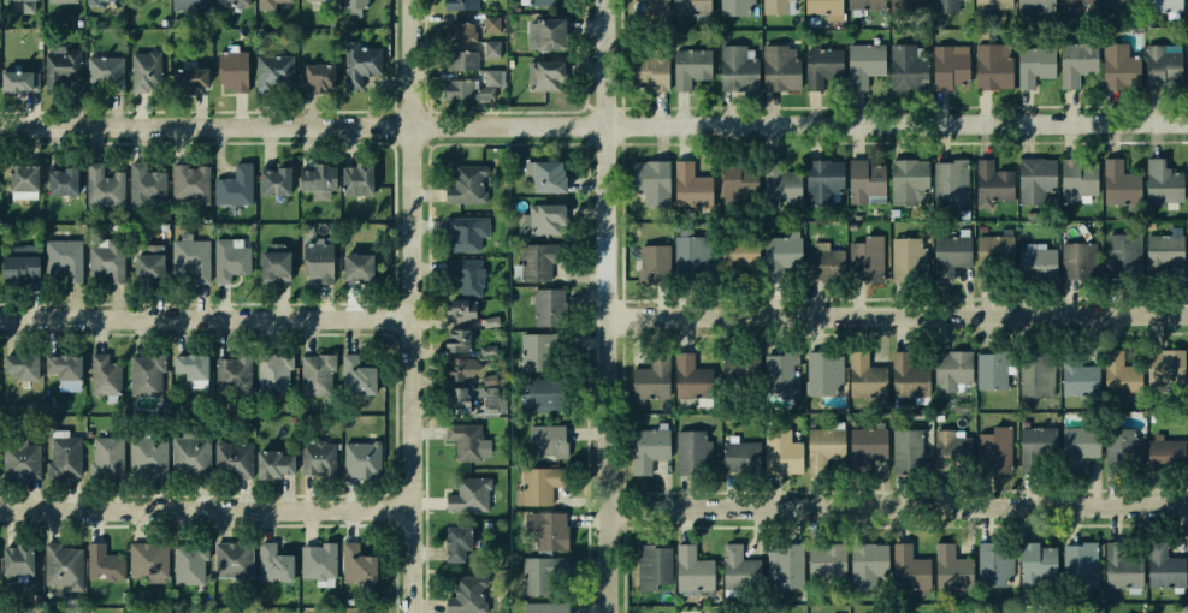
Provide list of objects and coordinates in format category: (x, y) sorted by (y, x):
building: (317, 0)
building: (61, 1)
building: (100, 1)
building: (273, 1)
building: (543, 1)
building: (230, 2)
building: (859, 2)
building: (904, 2)
building: (189, 4)
building: (941, 4)
building: (26, 5)
building: (469, 5)
building: (778, 5)
building: (989, 5)
building: (1033, 5)
building: (1118, 5)
building: (1162, 5)
building: (646, 6)
building: (688, 6)
building: (1076, 6)
building: (1187, 6)
building: (350, 7)
building: (733, 7)
building: (821, 8)
building: (468, 26)
building: (539, 30)
building: (469, 52)
building: (462, 60)
building: (862, 63)
building: (989, 63)
building: (360, 65)
building: (687, 66)
building: (946, 66)
building: (1032, 66)
building: (1159, 66)
building: (821, 67)
building: (271, 69)
building: (904, 69)
building: (1075, 69)
building: (1116, 69)
building: (645, 70)
building: (729, 70)
building: (776, 70)
building: (230, 71)
building: (60, 72)
building: (104, 72)
building: (144, 72)
building: (313, 72)
building: (185, 76)
building: (543, 76)
building: (19, 79)
building: (1187, 83)
building: (471, 87)
road: (593, 126)
building: (542, 173)
building: (646, 175)
building: (313, 177)
building: (58, 178)
building: (19, 179)
building: (270, 179)
building: (351, 179)
building: (729, 179)
building: (1033, 179)
building: (776, 180)
building: (821, 180)
building: (1076, 180)
building: (863, 181)
building: (906, 181)
building: (989, 181)
building: (102, 183)
building: (463, 183)
building: (688, 183)
building: (144, 184)
building: (189, 184)
building: (948, 184)
building: (1116, 184)
building: (232, 185)
building: (1159, 186)
building: (542, 218)
building: (463, 233)
building: (994, 252)
building: (867, 255)
building: (947, 256)
building: (1118, 256)
building: (1163, 256)
building: (64, 257)
building: (189, 257)
building: (735, 257)
building: (820, 257)
building: (691, 258)
building: (779, 258)
building: (905, 260)
building: (1076, 260)
building: (105, 261)
building: (229, 261)
building: (267, 261)
building: (533, 261)
building: (19, 262)
building: (148, 262)
building: (313, 263)
building: (651, 263)
building: (1033, 264)
building: (351, 268)
building: (465, 275)
building: (546, 305)
road: (415, 306)
road: (611, 306)
building: (460, 310)
road: (900, 313)
road: (208, 317)
building: (490, 321)
building: (460, 340)
building: (487, 350)
building: (533, 350)
building: (23, 365)
building: (65, 365)
building: (193, 365)
building: (731, 365)
building: (461, 368)
building: (143, 370)
building: (273, 370)
building: (906, 370)
building: (950, 370)
building: (988, 370)
building: (1163, 370)
building: (822, 371)
building: (102, 374)
building: (862, 374)
building: (1034, 374)
building: (1116, 374)
building: (356, 375)
building: (226, 376)
building: (318, 376)
building: (649, 376)
building: (686, 376)
building: (775, 376)
building: (483, 379)
building: (1075, 380)
building: (539, 394)
building: (462, 395)
building: (87, 432)
building: (548, 440)
building: (462, 441)
building: (865, 444)
building: (1077, 445)
building: (1122, 445)
building: (909, 446)
building: (1035, 447)
building: (645, 448)
building: (822, 450)
building: (993, 450)
building: (691, 452)
building: (1163, 452)
building: (776, 453)
building: (957, 454)
building: (105, 456)
building: (187, 456)
building: (359, 456)
building: (18, 457)
building: (144, 457)
building: (315, 457)
building: (64, 458)
building: (227, 459)
building: (732, 459)
building: (270, 462)
building: (534, 487)
building: (467, 493)
road: (900, 505)
road: (207, 511)
building: (544, 531)
building: (455, 543)
building: (13, 558)
building: (271, 559)
building: (189, 560)
building: (232, 560)
building: (992, 560)
building: (102, 561)
building: (314, 561)
building: (865, 561)
building: (144, 563)
building: (823, 563)
building: (1122, 564)
building: (1164, 564)
building: (354, 565)
building: (782, 565)
building: (909, 565)
building: (1038, 565)
building: (59, 566)
building: (1078, 567)
building: (650, 569)
building: (948, 569)
building: (738, 570)
building: (691, 571)
building: (540, 577)
building: (462, 594)
building: (542, 608)
building: (1050, 611)

